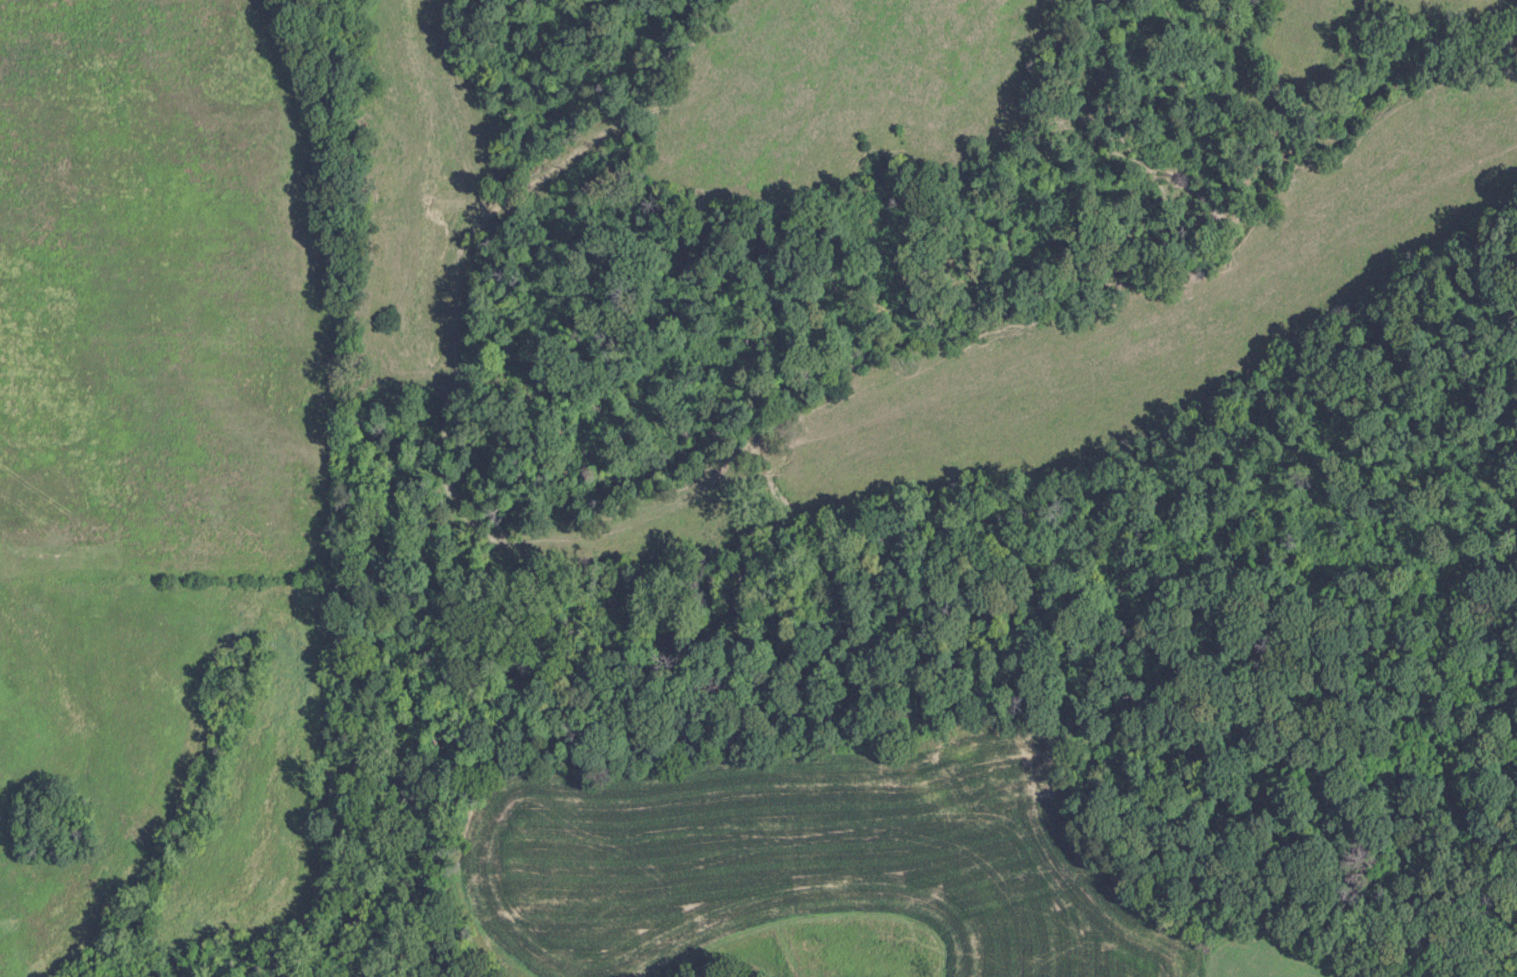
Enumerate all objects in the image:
building: (1071, 204)

